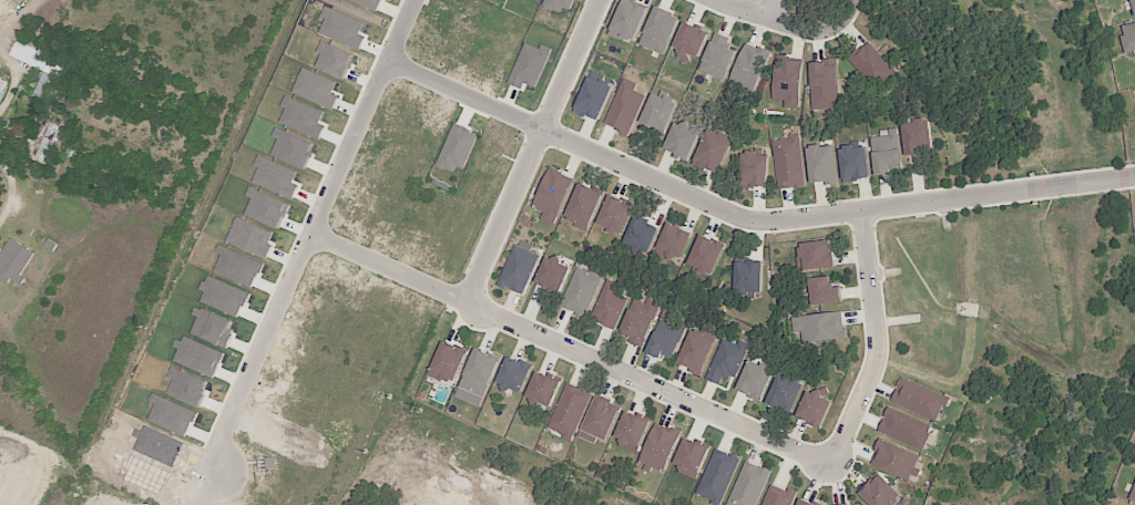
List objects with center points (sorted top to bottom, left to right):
building: (538, 0)
building: (369, 3)
building: (560, 4)
building: (1133, 6)
road: (750, 7)
building: (627, 17)
building: (342, 27)
building: (658, 29)
road: (815, 31)
building: (1128, 37)
building: (691, 41)
building: (716, 59)
building: (334, 60)
building: (868, 61)
building: (530, 63)
building: (749, 65)
building: (40, 68)
building: (786, 81)
building: (2, 84)
building: (825, 84)
building: (316, 89)
building: (592, 93)
building: (624, 106)
building: (659, 110)
building: (303, 117)
building: (918, 133)
building: (685, 137)
building: (292, 147)
building: (457, 147)
building: (714, 147)
road: (531, 150)
building: (886, 151)
building: (791, 159)
building: (820, 159)
building: (852, 159)
building: (755, 168)
building: (275, 177)
road: (13, 189)
building: (552, 190)
building: (585, 202)
building: (615, 215)
road: (753, 217)
building: (642, 230)
building: (675, 237)
building: (817, 250)
building: (706, 252)
road: (319, 254)
building: (14, 258)
building: (517, 267)
building: (552, 274)
building: (746, 275)
building: (582, 288)
building: (821, 289)
building: (607, 305)
road: (482, 309)
building: (637, 318)
building: (820, 326)
building: (665, 338)
road: (878, 339)
road: (579, 349)
building: (696, 350)
building: (447, 359)
building: (728, 360)
building: (479, 371)
building: (513, 373)
building: (754, 375)
building: (543, 388)
building: (784, 389)
building: (921, 396)
building: (811, 409)
building: (570, 410)
building: (597, 418)
building: (908, 426)
building: (628, 430)
building: (659, 446)
building: (691, 457)
building: (894, 458)
building: (719, 475)
road: (234, 477)
building: (750, 484)
building: (878, 494)
building: (1134, 495)
building: (780, 496)
building: (804, 503)
building: (855, 504)
building: (860, 504)

